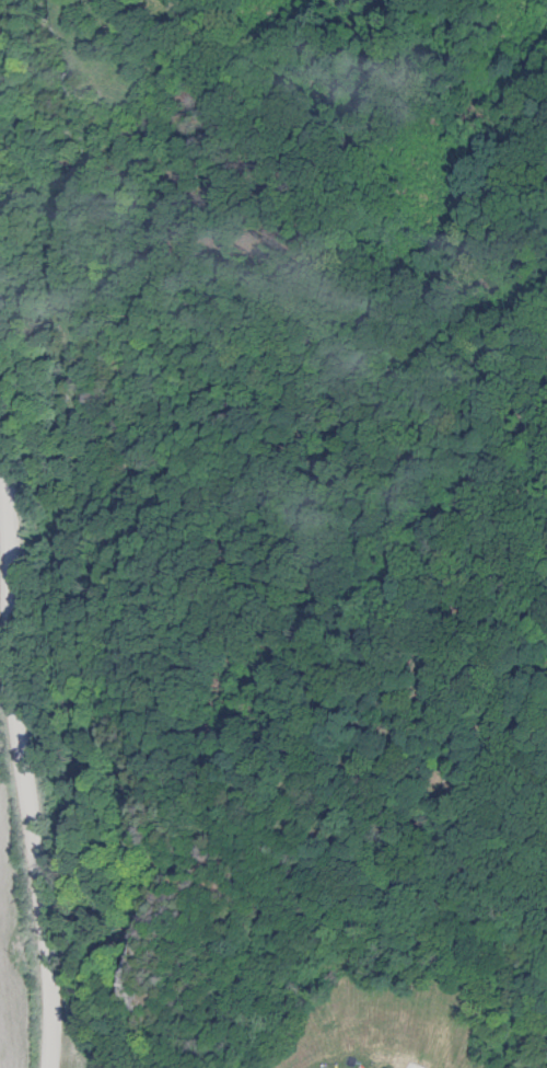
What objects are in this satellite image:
road: (2, 1006)

